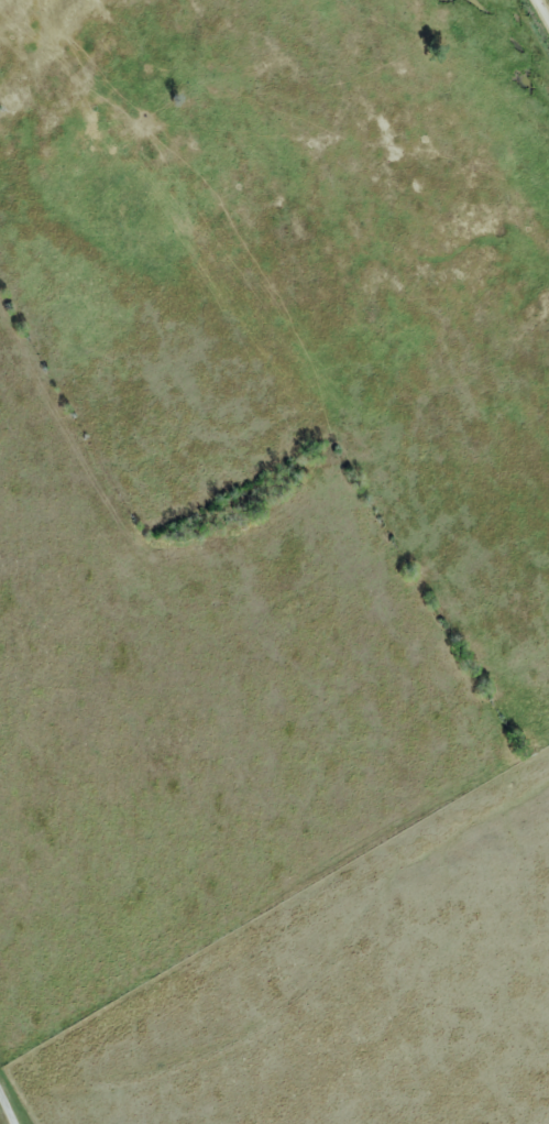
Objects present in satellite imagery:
road: (548, 0)
road: (9, 1103)

